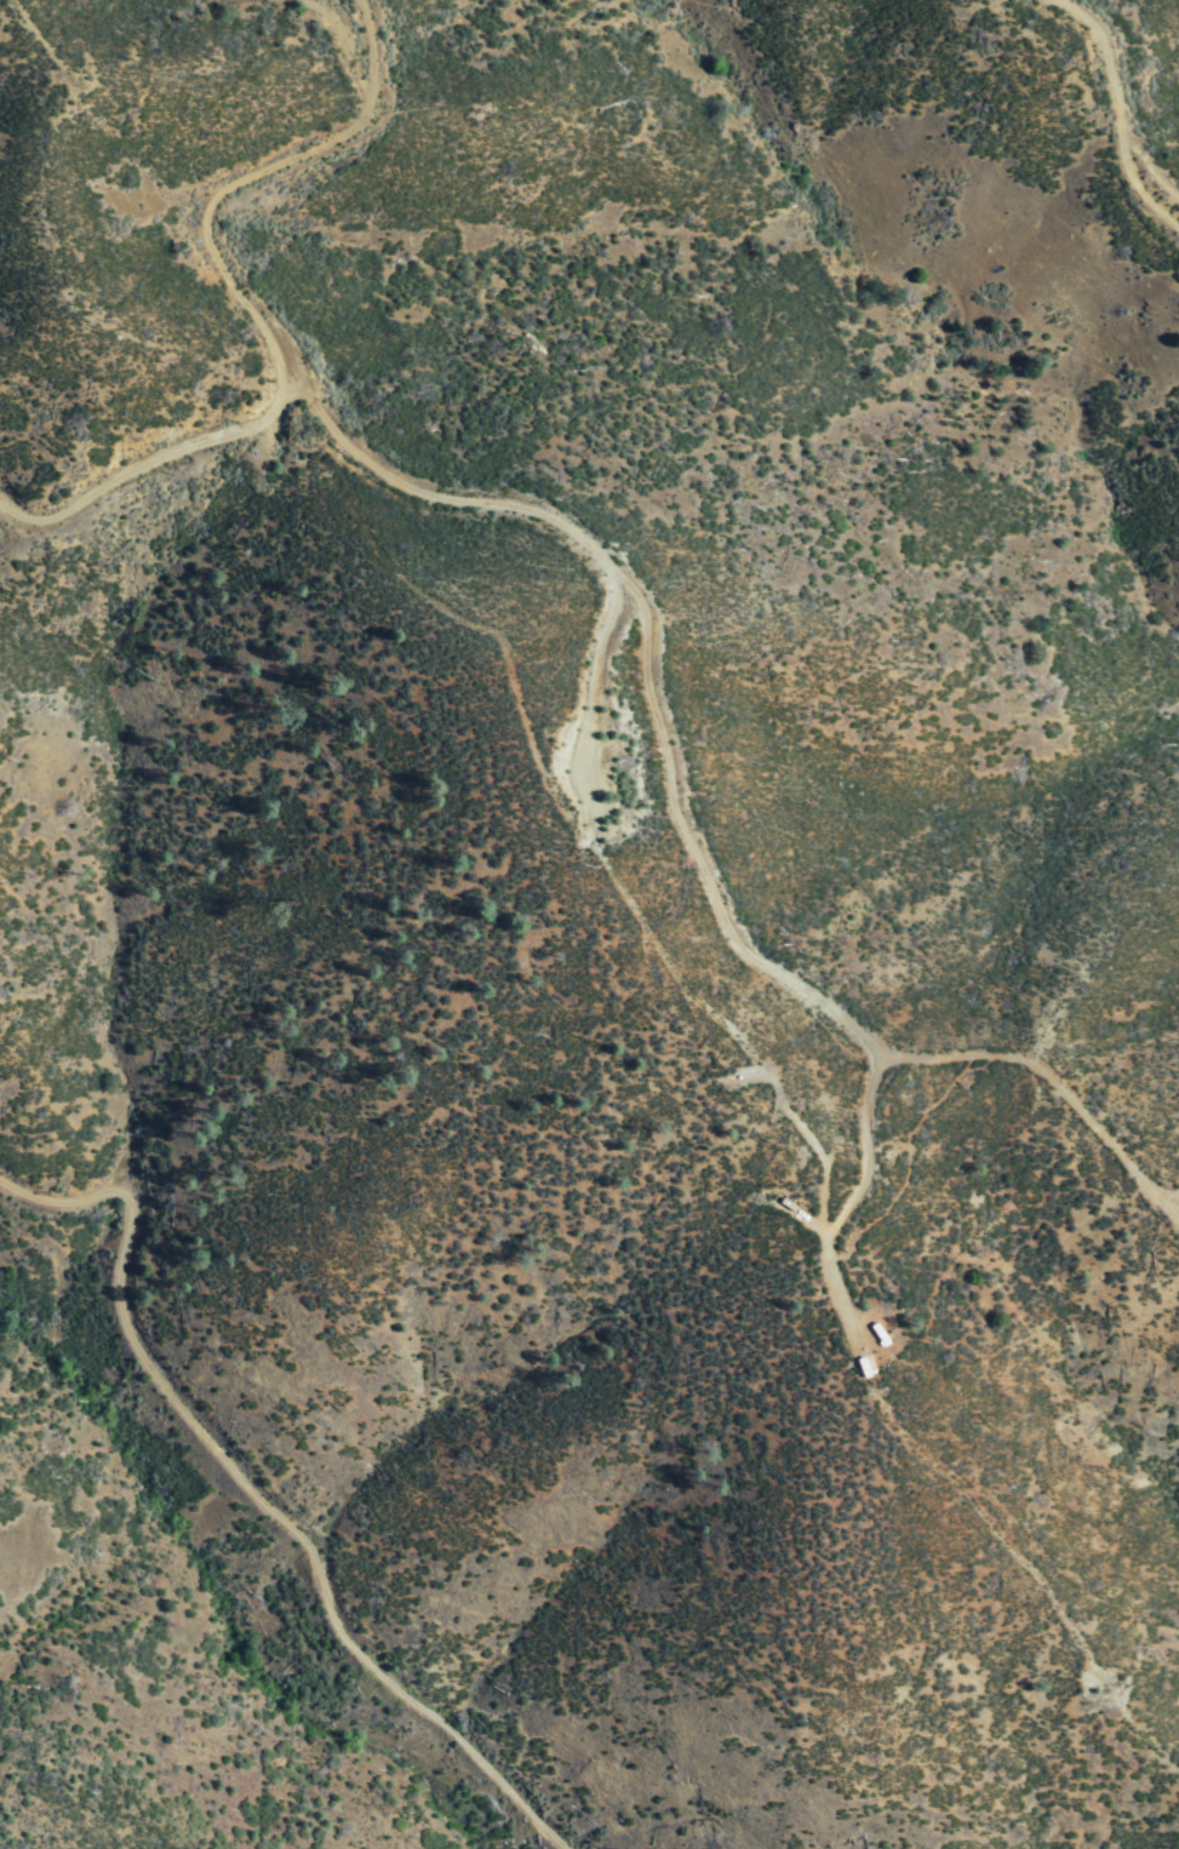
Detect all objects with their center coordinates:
road: (1092, 126)
building: (880, 1339)

